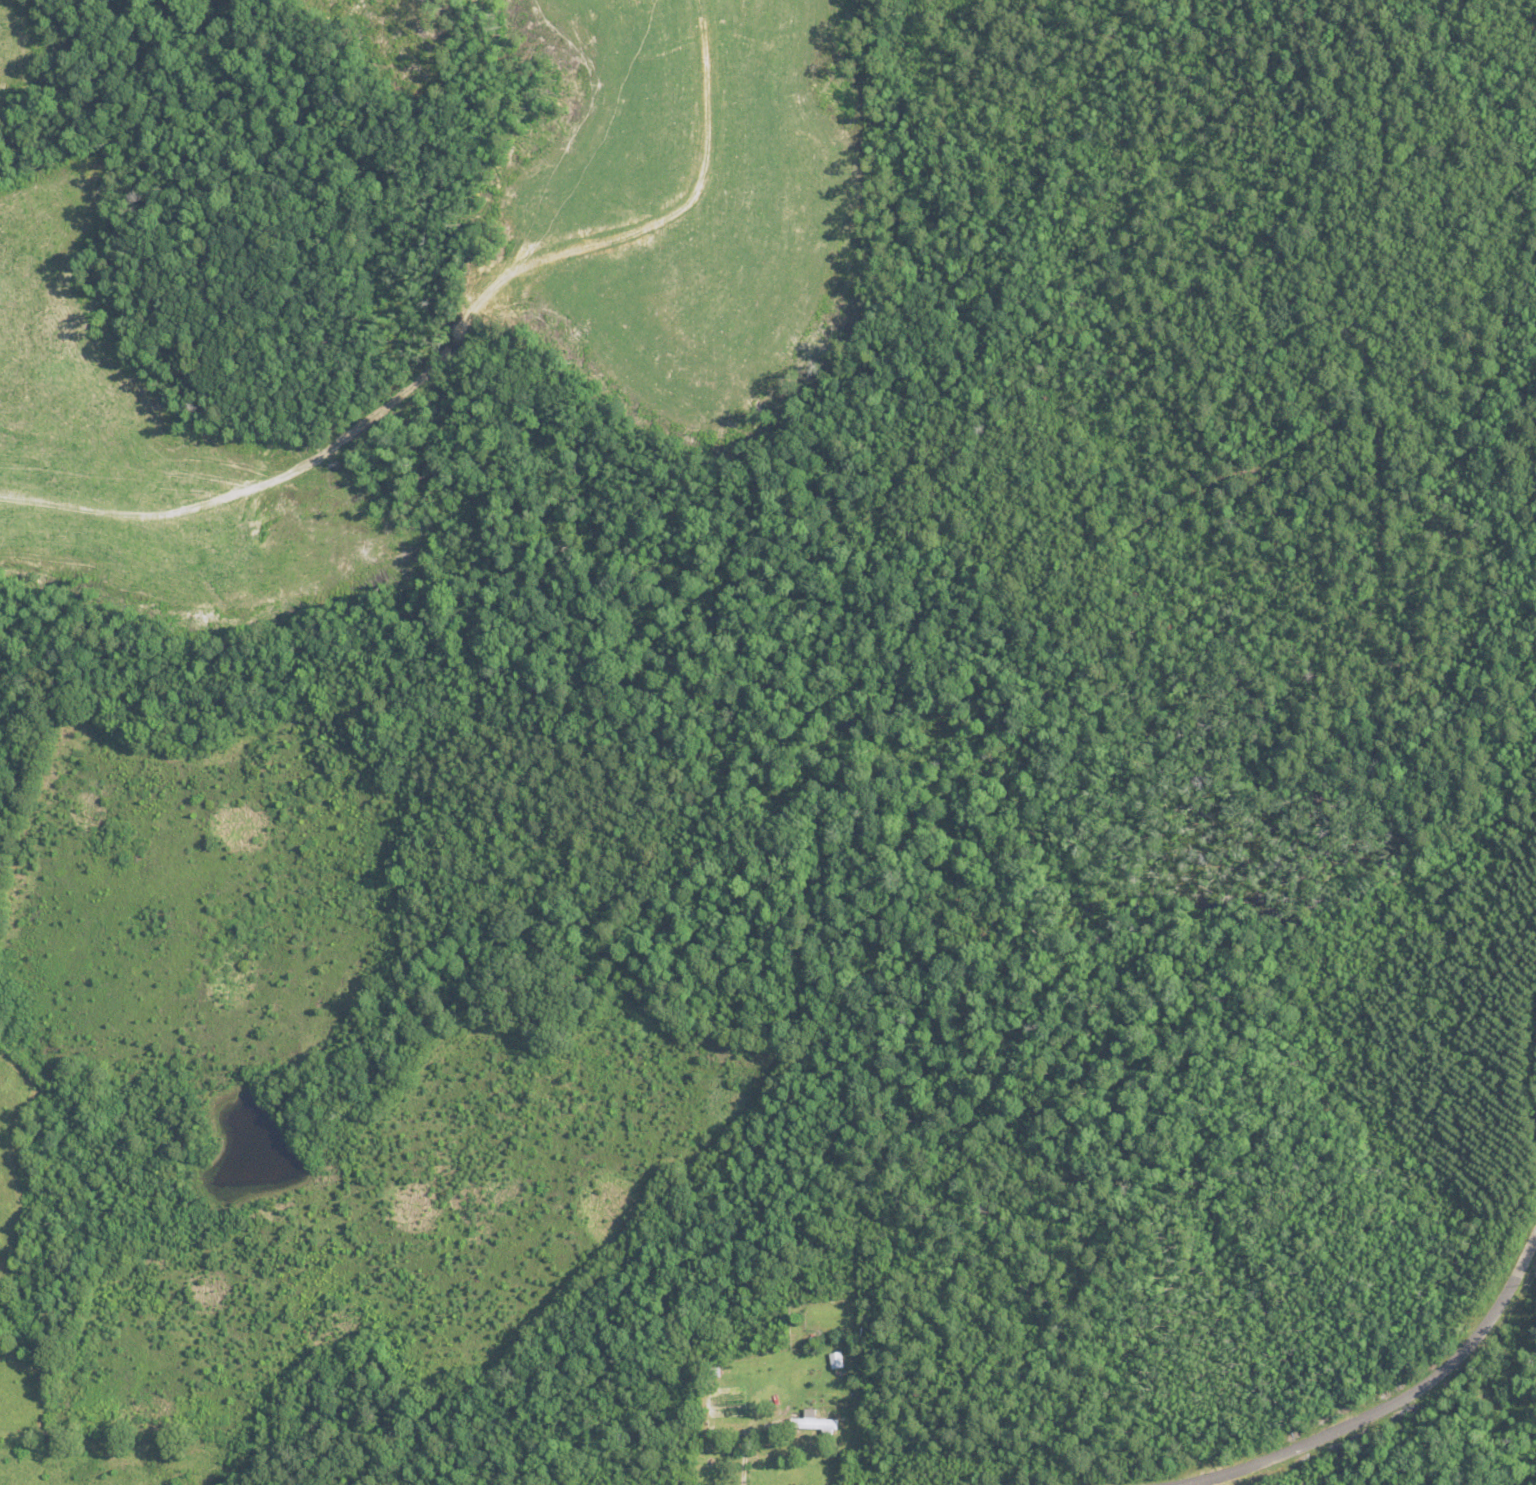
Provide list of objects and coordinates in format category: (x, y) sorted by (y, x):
building: (835, 1359)
road: (1396, 1403)
building: (811, 1422)

